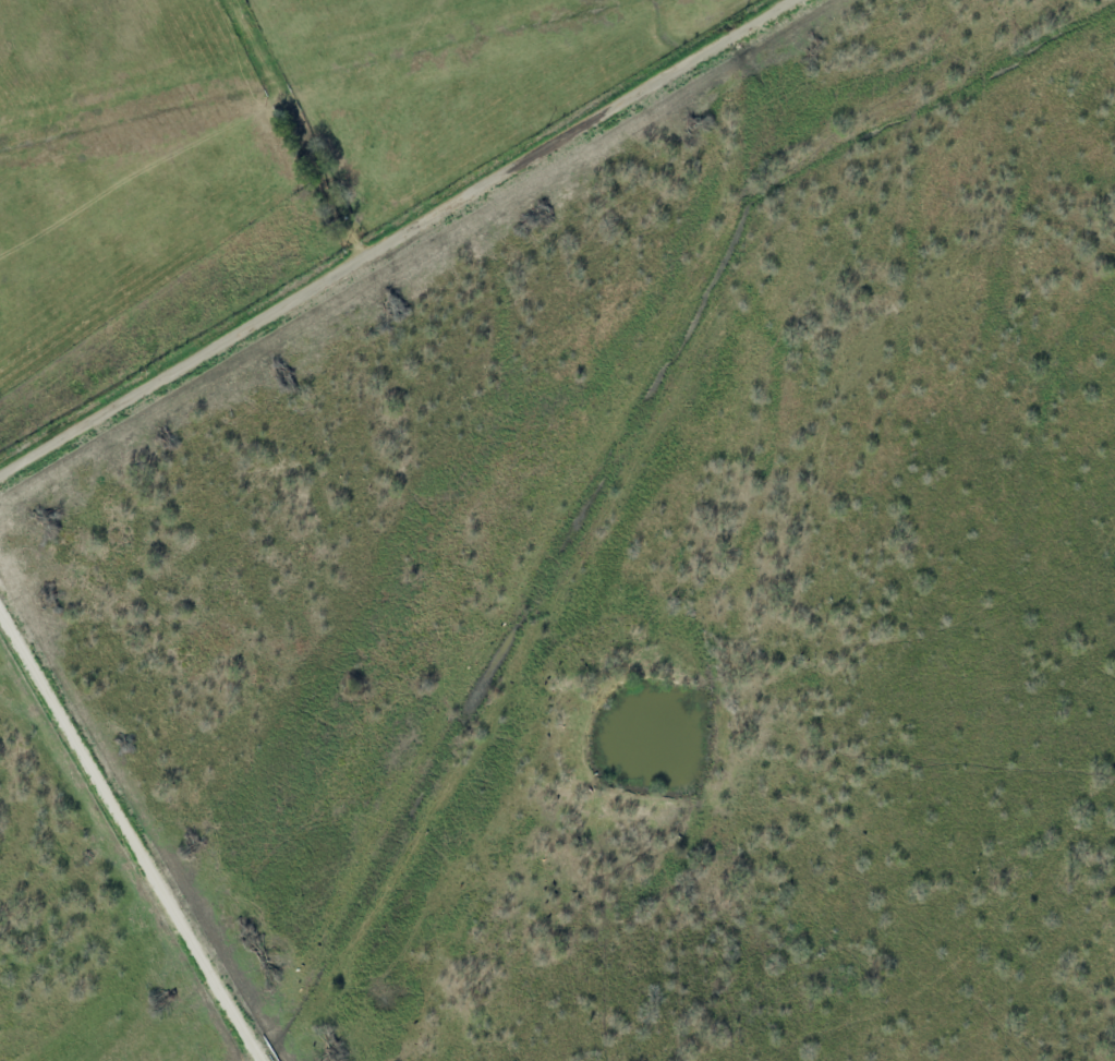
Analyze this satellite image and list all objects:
road: (401, 241)
road: (135, 829)

